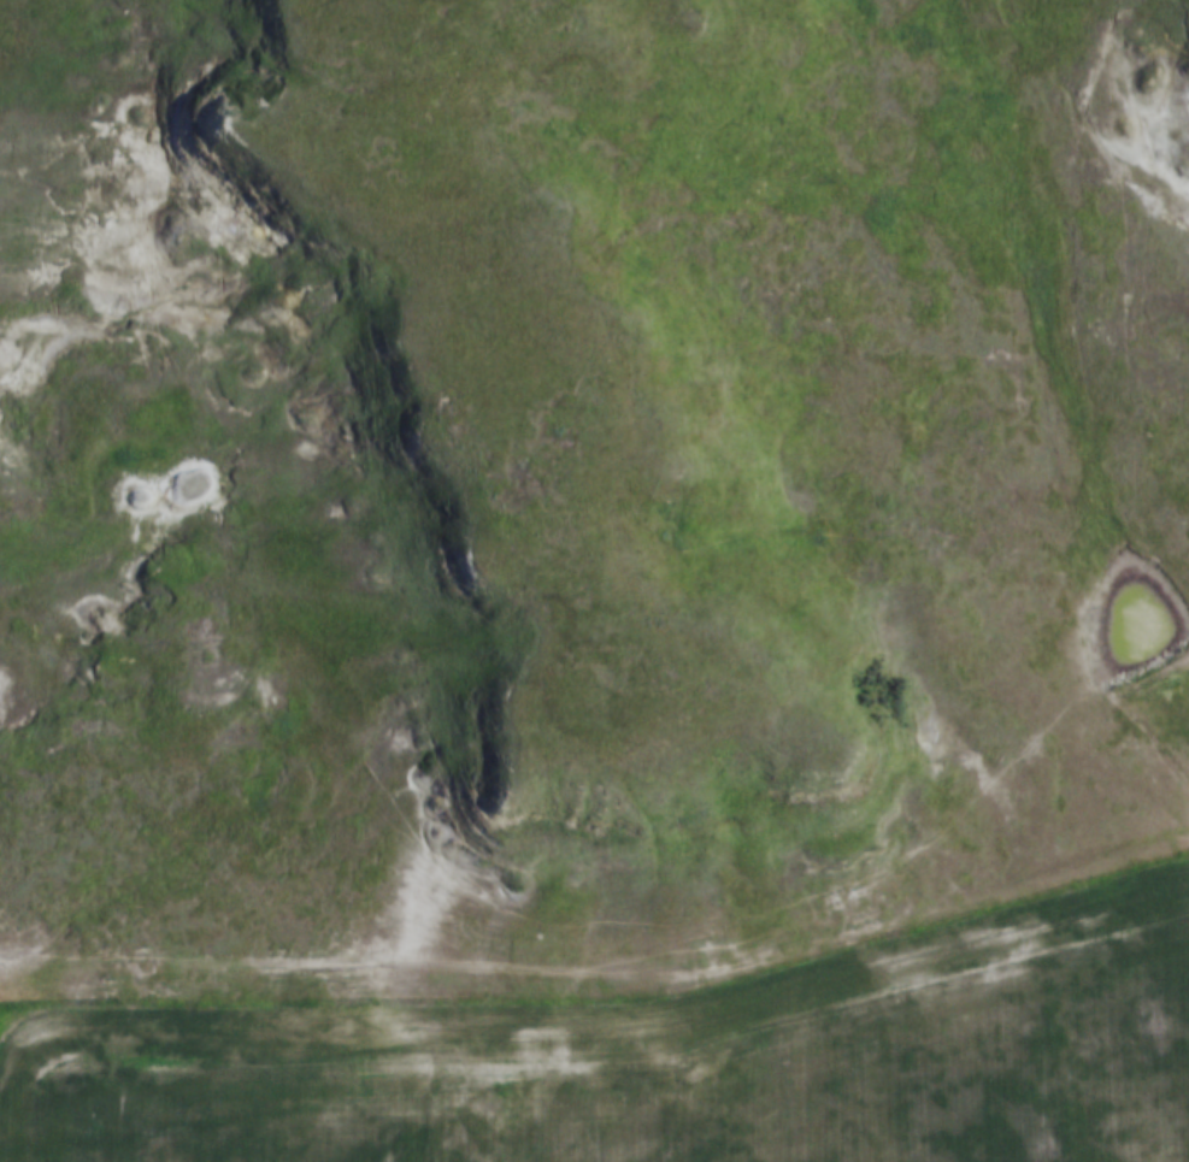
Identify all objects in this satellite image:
road: (1159, 836)
crop: (678, 1061)

